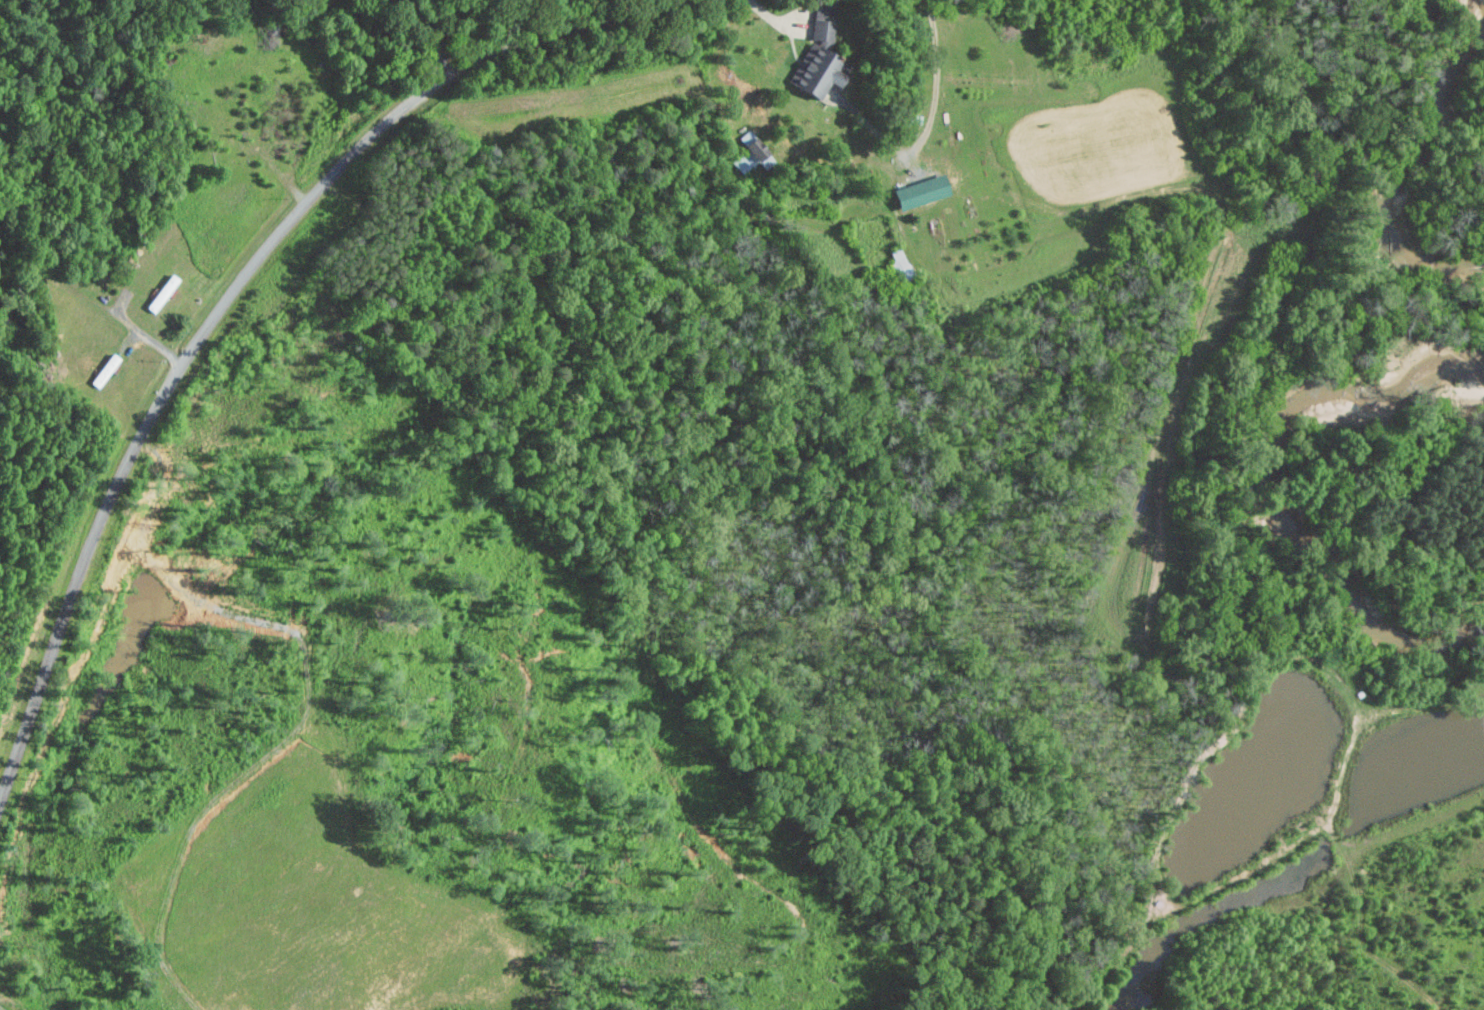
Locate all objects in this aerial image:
building: (821, 56)
road: (939, 83)
park: (169, 149)
building: (751, 152)
building: (917, 191)
building: (163, 294)
road: (230, 297)
road: (148, 334)
building: (106, 372)
road: (188, 594)
road: (189, 838)
road: (3, 1007)

